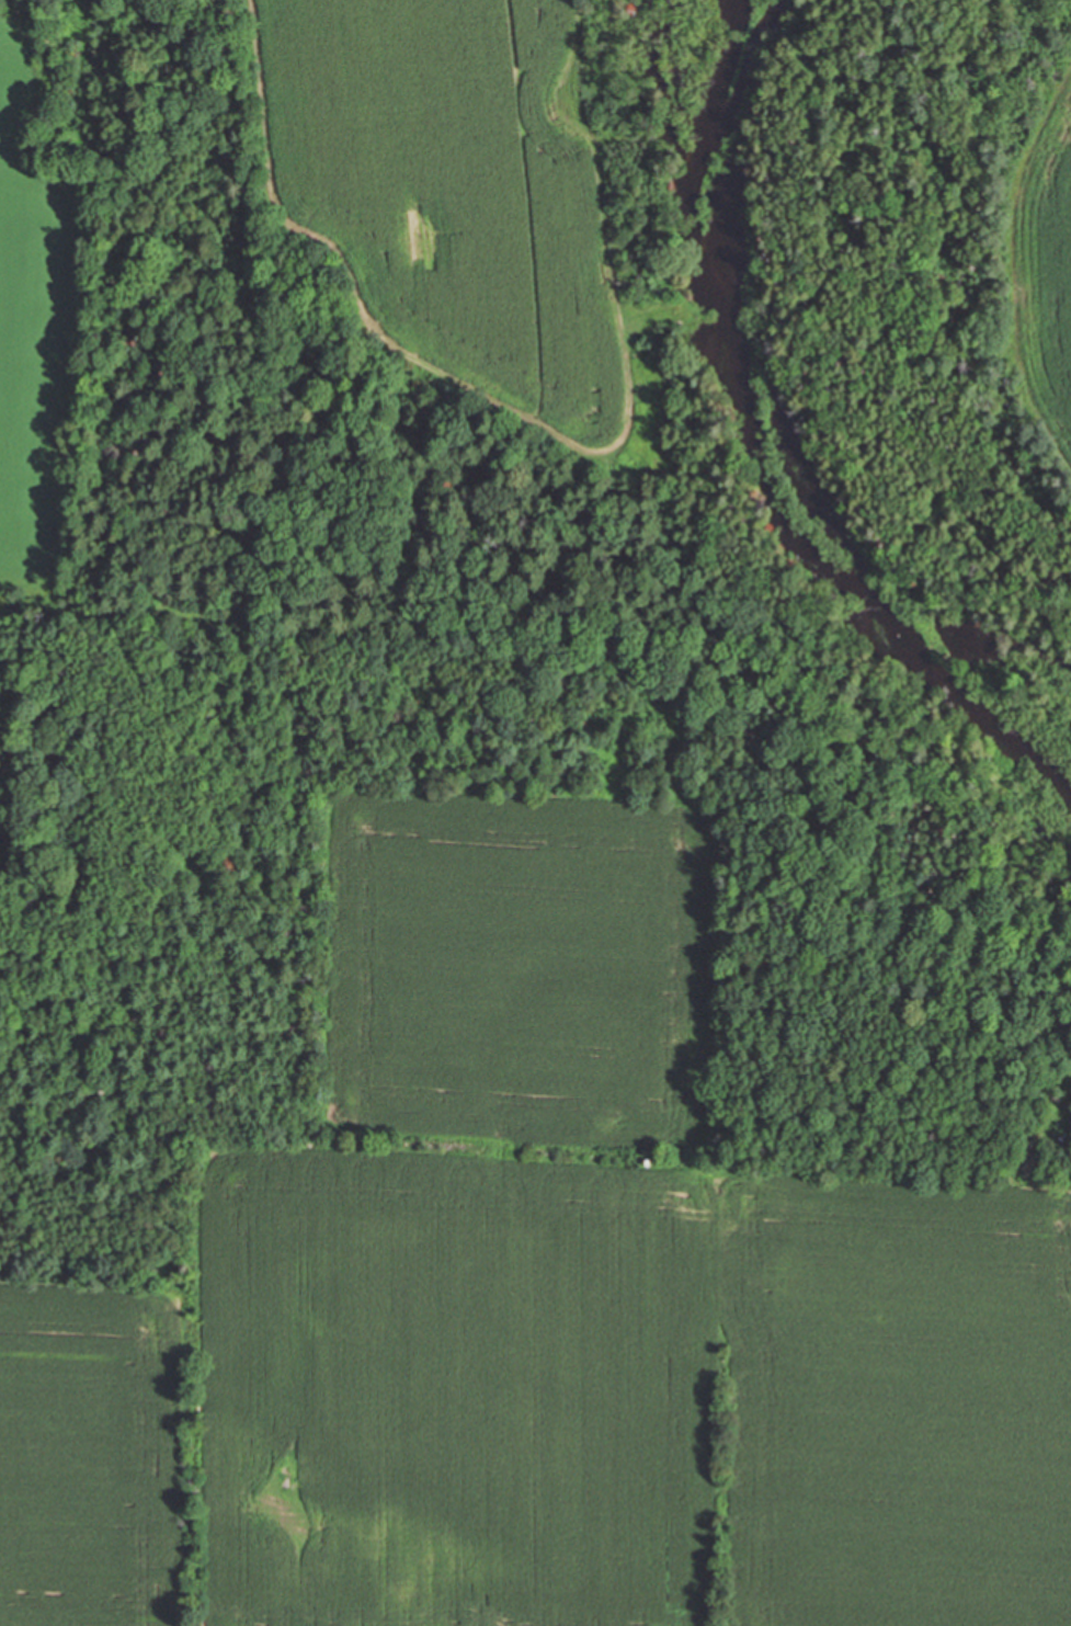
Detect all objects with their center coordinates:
river: (754, 455)

